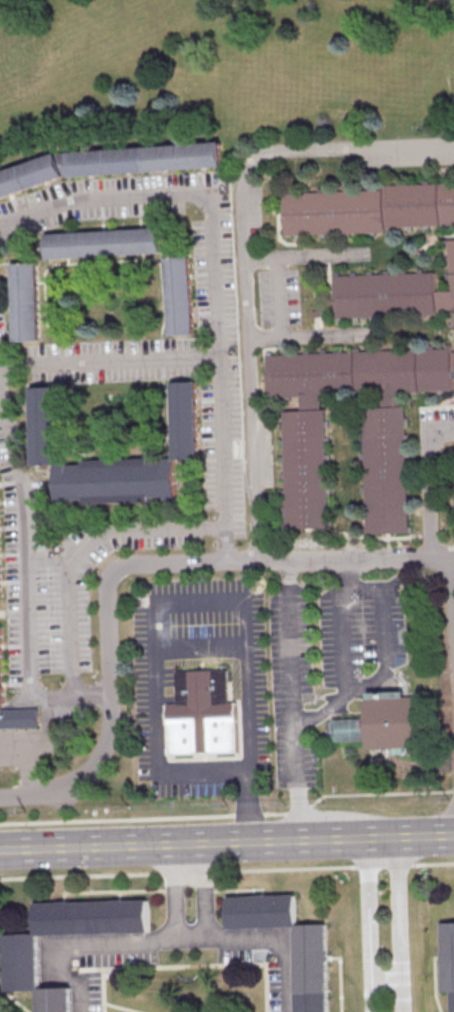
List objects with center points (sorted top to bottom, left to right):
road: (181, 199)
building: (369, 209)
building: (102, 242)
road: (310, 260)
building: (387, 293)
building: (177, 295)
building: (23, 301)
road: (285, 301)
road: (315, 339)
road: (110, 364)
road: (255, 406)
building: (42, 422)
road: (224, 462)
building: (305, 462)
road: (427, 483)
road: (81, 551)
road: (175, 566)
road: (453, 576)
road: (26, 584)
road: (13, 613)
road: (381, 631)
road: (153, 639)
road: (199, 646)
road: (345, 655)
building: (1, 666)
building: (206, 718)
building: (388, 727)
road: (34, 755)
road: (44, 799)
road: (229, 813)
road: (227, 842)
road: (227, 870)
road: (202, 891)
road: (174, 892)
road: (369, 924)
road: (401, 924)
road: (169, 940)
building: (447, 960)
building: (22, 963)
building: (310, 971)
road: (387, 981)

